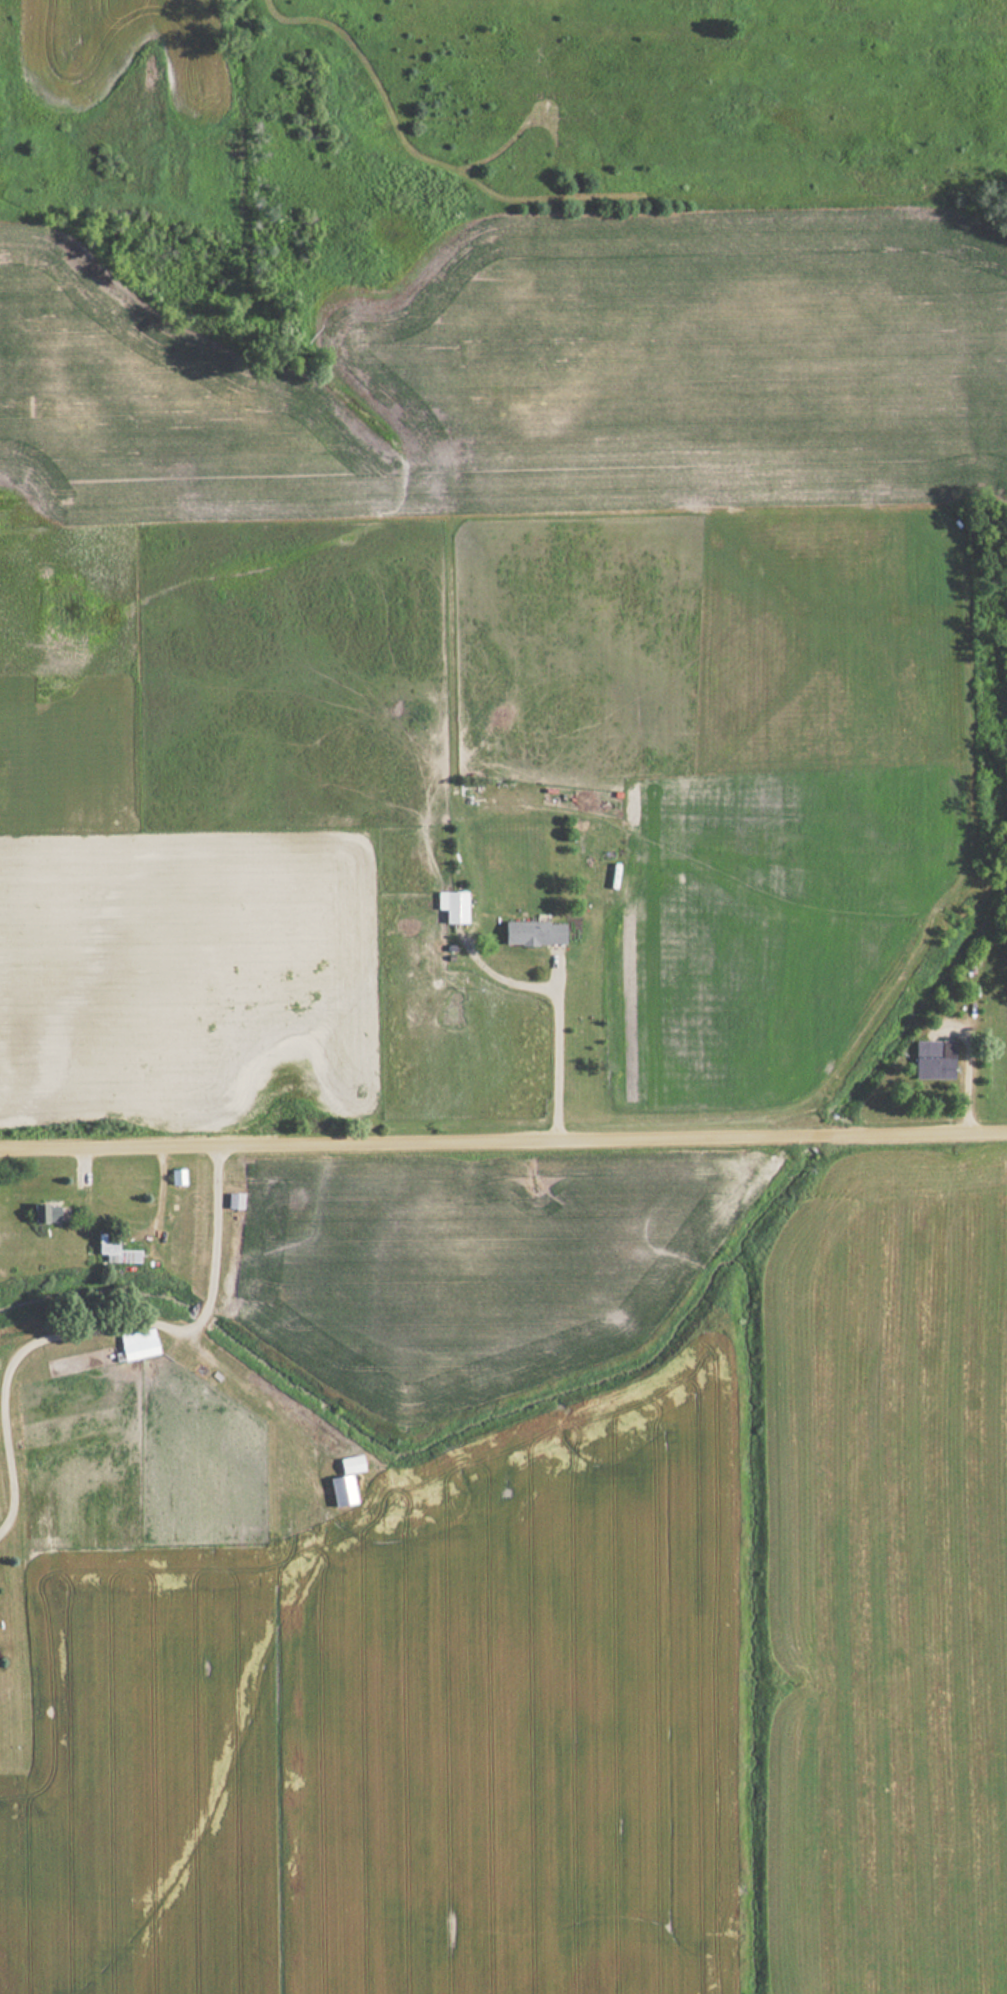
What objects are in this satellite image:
building: (452, 905)
building: (532, 932)
building: (932, 1059)
road: (503, 1147)
building: (176, 1176)
building: (233, 1200)
building: (44, 1211)
building: (113, 1248)
building: (135, 1344)
building: (343, 1481)

